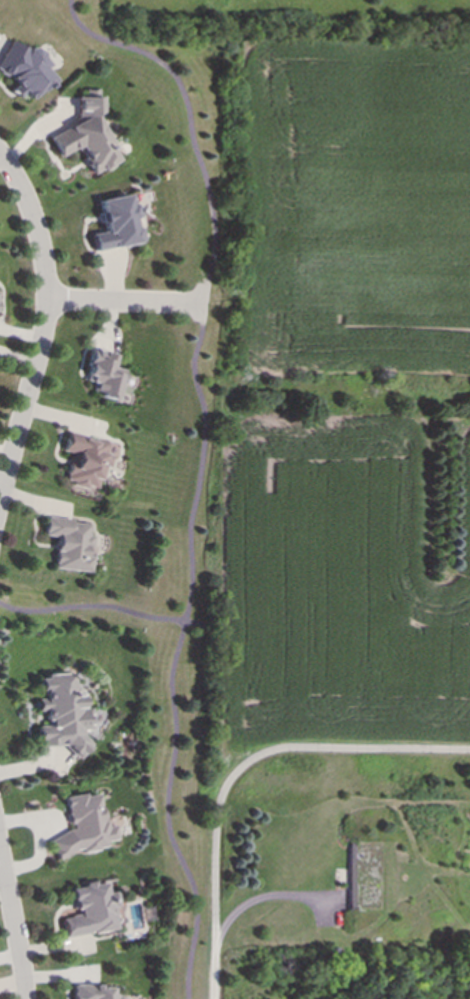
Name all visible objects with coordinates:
building: (23, 70)
building: (85, 135)
building: (114, 224)
road: (206, 284)
road: (118, 302)
road: (44, 325)
building: (101, 374)
crop: (347, 396)
building: (84, 461)
park: (195, 507)
building: (69, 544)
road: (93, 608)
road: (193, 624)
building: (62, 715)
road: (241, 771)
road: (168, 813)
building: (83, 827)
road: (265, 895)
building: (91, 910)
road: (14, 928)
building: (94, 992)

